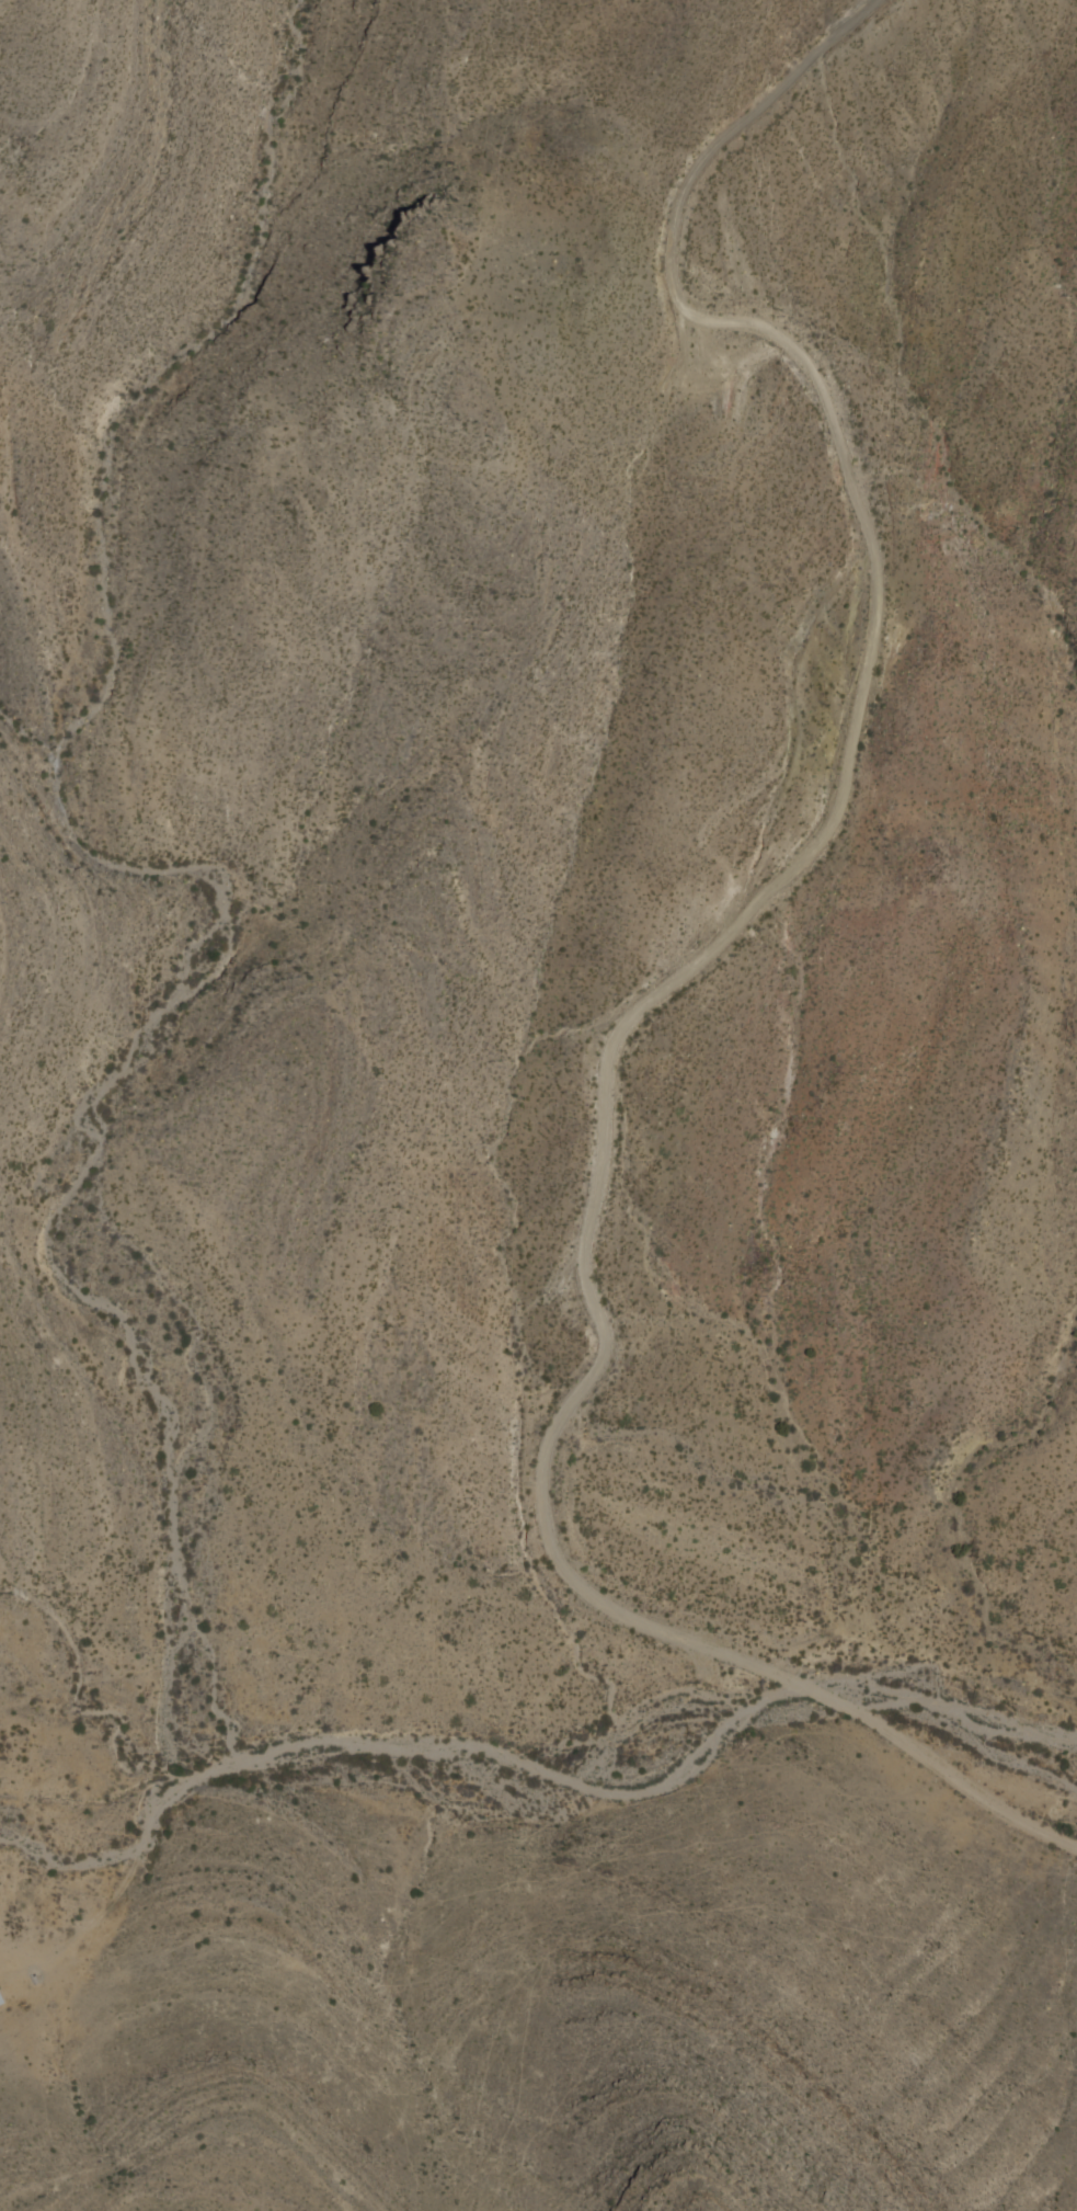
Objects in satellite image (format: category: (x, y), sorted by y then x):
road: (830, 704)
road: (744, 1664)
building: (1, 2003)

